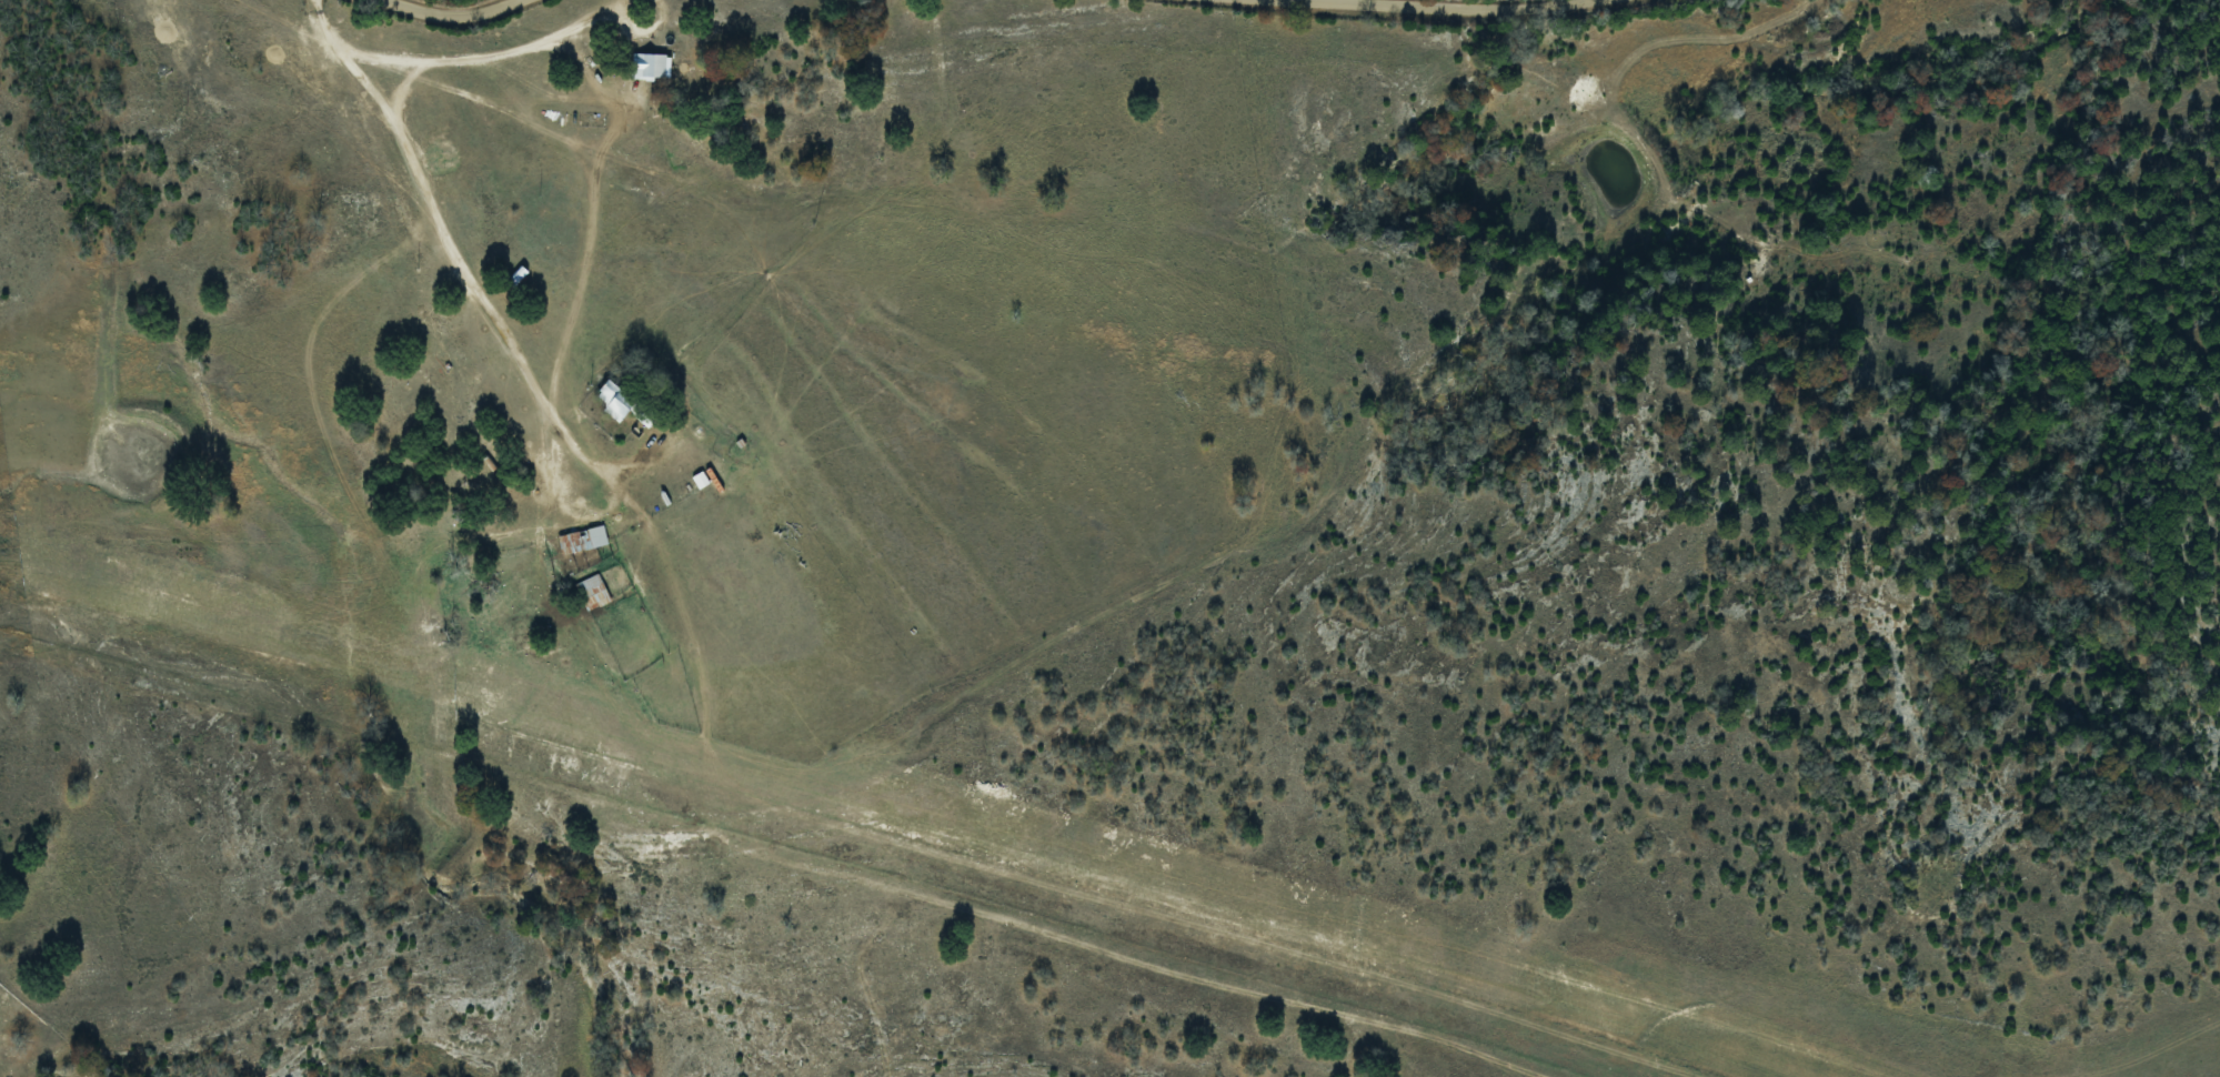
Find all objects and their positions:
road: (1466, 8)
road: (453, 16)
building: (642, 67)
road: (433, 211)
building: (518, 275)
building: (615, 400)
building: (512, 495)
building: (584, 540)
building: (593, 593)

